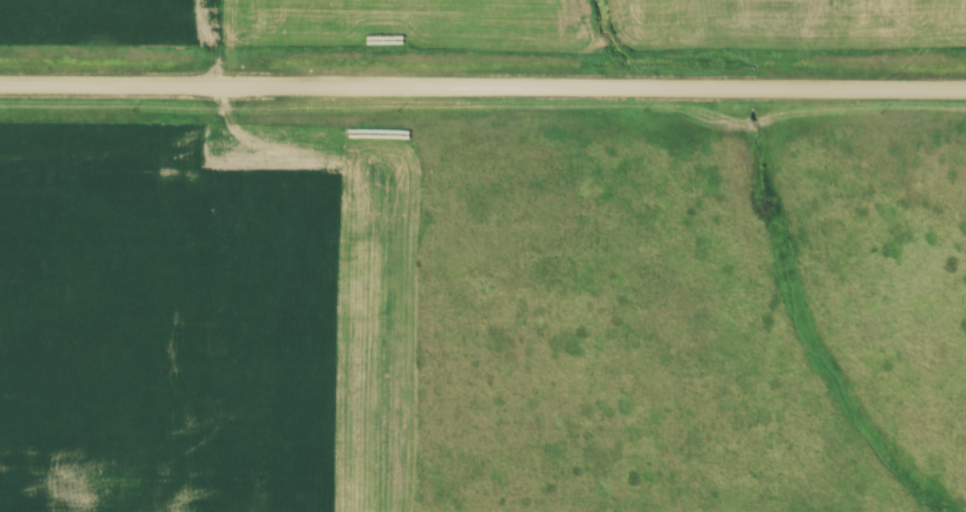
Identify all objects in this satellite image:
road: (483, 87)

